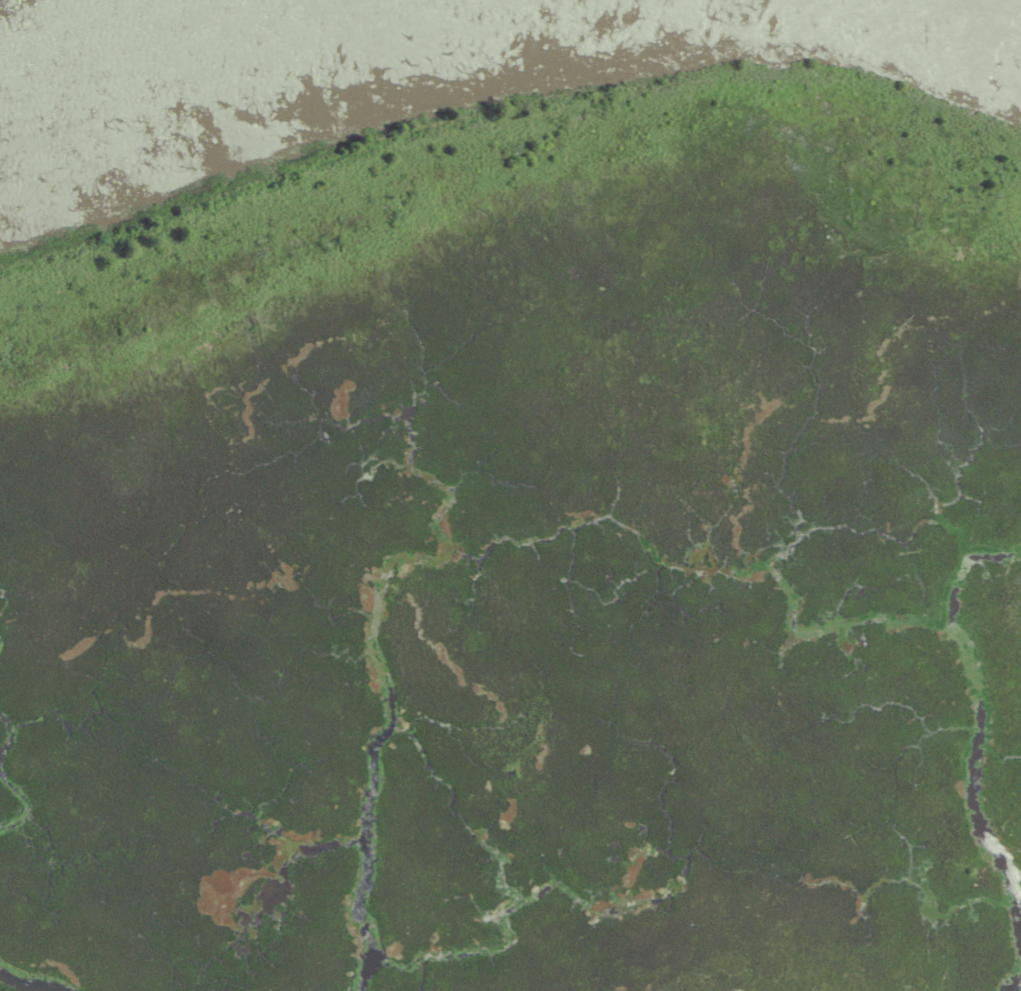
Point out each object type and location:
river: (67, 11)

